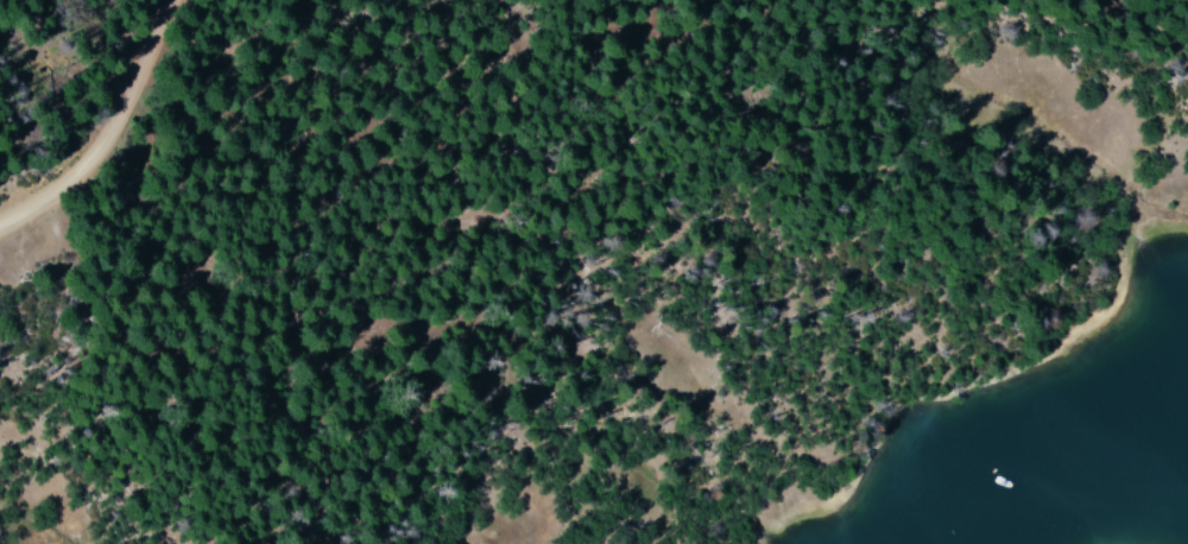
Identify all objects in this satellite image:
road: (124, 145)

